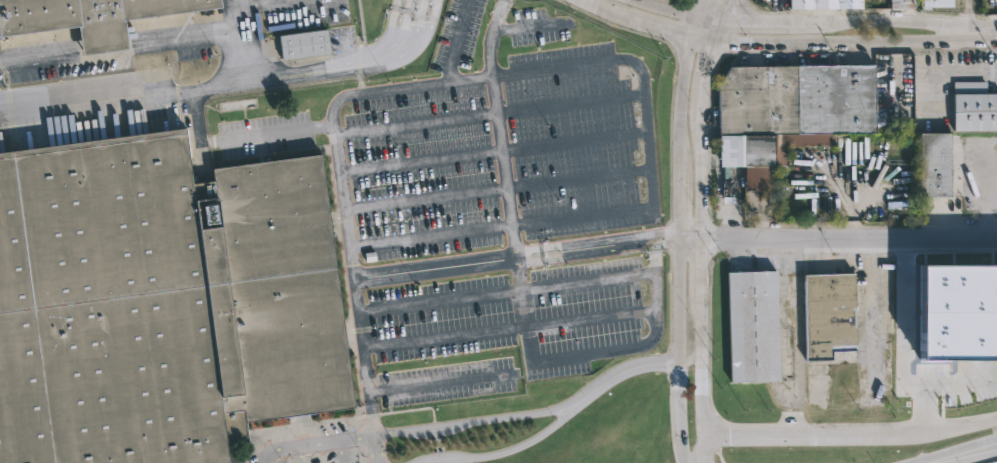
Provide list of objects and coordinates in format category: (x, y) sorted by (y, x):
building: (937, 3)
building: (900, 4)
building: (824, 5)
road: (667, 7)
road: (697, 7)
road: (720, 8)
road: (706, 15)
building: (95, 17)
road: (757, 18)
road: (889, 18)
road: (634, 20)
road: (691, 25)
road: (989, 29)
road: (834, 41)
building: (302, 44)
road: (132, 51)
road: (241, 56)
road: (229, 86)
road: (405, 86)
building: (973, 107)
building: (791, 110)
road: (644, 130)
road: (240, 138)
building: (933, 166)
road: (505, 180)
building: (723, 189)
road: (425, 197)
road: (836, 235)
road: (695, 238)
road: (654, 248)
road: (676, 249)
road: (514, 259)
road: (352, 276)
road: (654, 300)
road: (439, 302)
building: (161, 303)
building: (956, 313)
road: (590, 316)
building: (830, 317)
building: (751, 327)
road: (444, 337)
road: (624, 368)
road: (469, 423)
road: (838, 432)
road: (996, 442)
road: (313, 444)
road: (375, 449)
road: (511, 449)
road: (953, 452)

